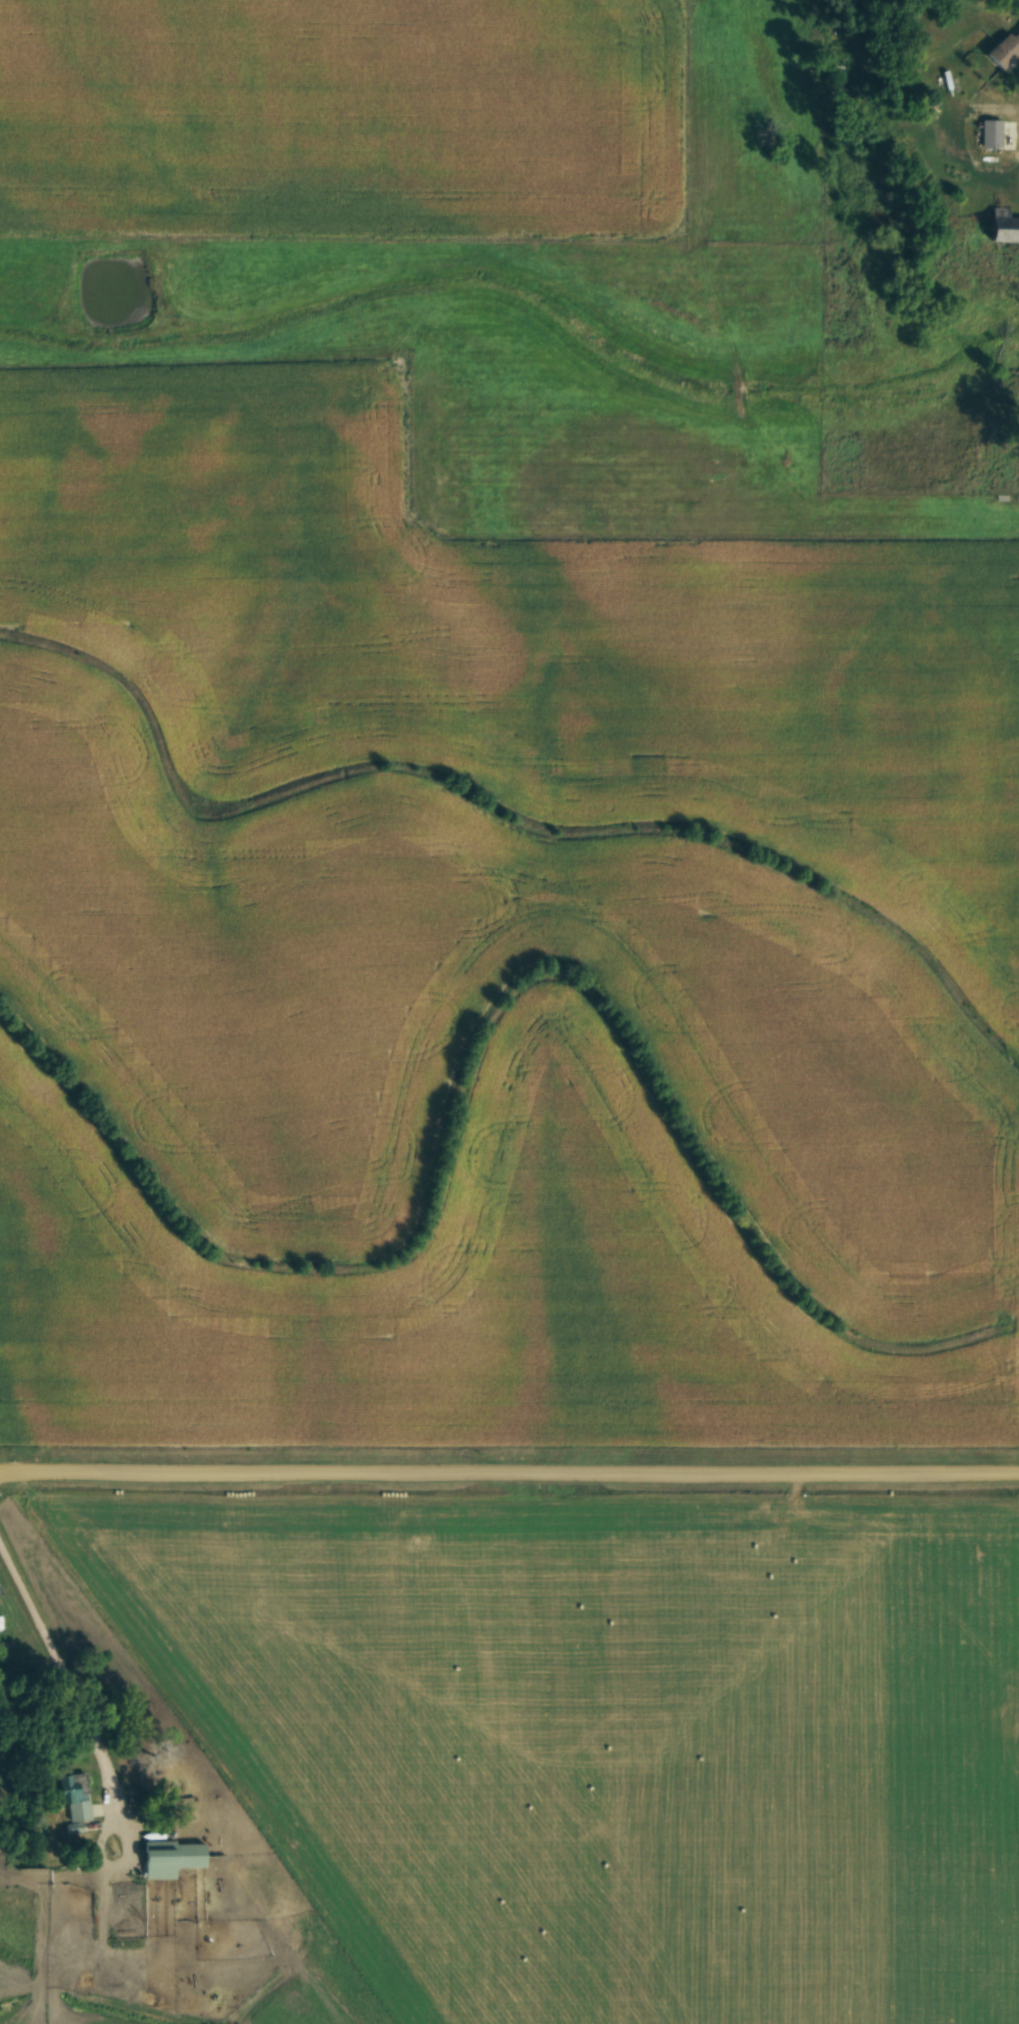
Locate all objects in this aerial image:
building: (1006, 46)
building: (989, 133)
building: (1001, 229)
road: (509, 538)
road: (509, 1476)
road: (60, 1666)
building: (72, 1796)
building: (168, 1858)
road: (112, 1864)

